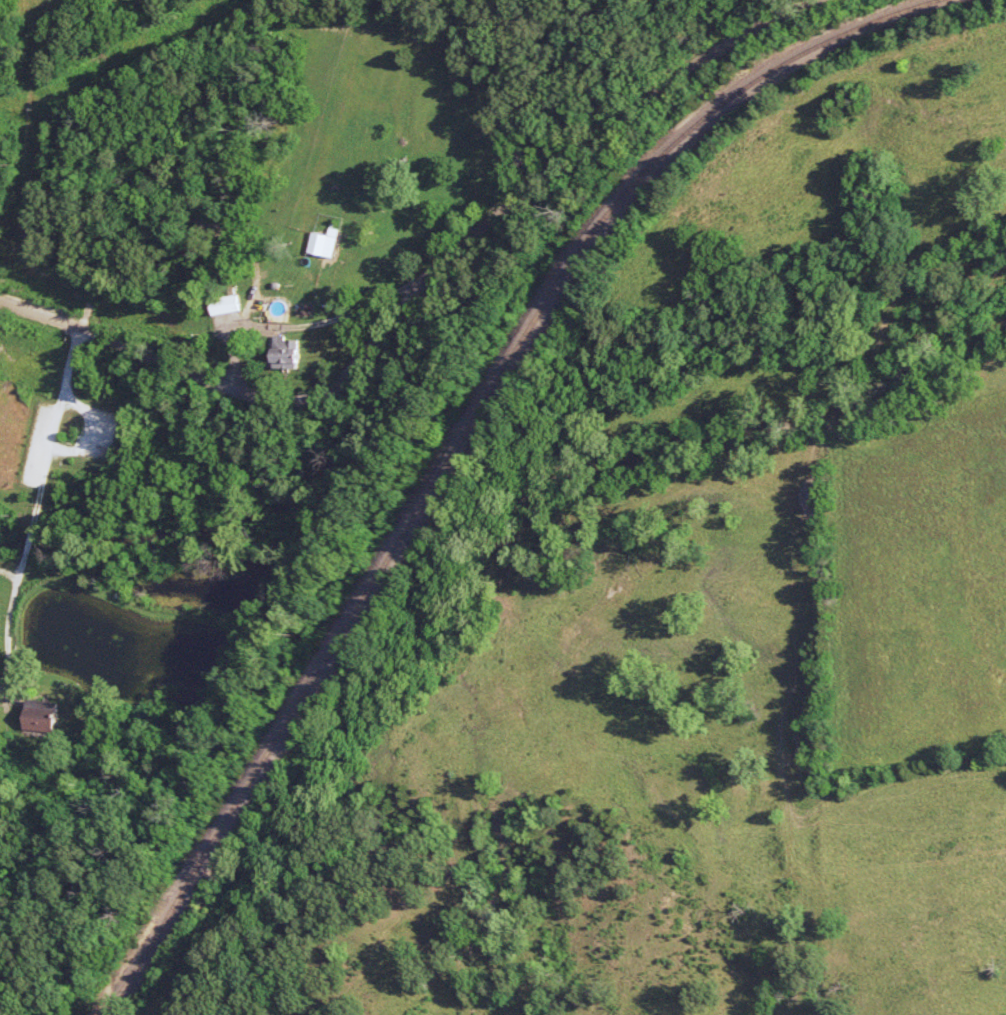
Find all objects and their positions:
road: (305, 191)
railway: (632, 193)
road: (426, 285)
building: (231, 305)
building: (290, 352)
road: (52, 433)
railway: (409, 520)
road: (27, 550)
road: (16, 592)
building: (44, 716)
railway: (241, 782)

